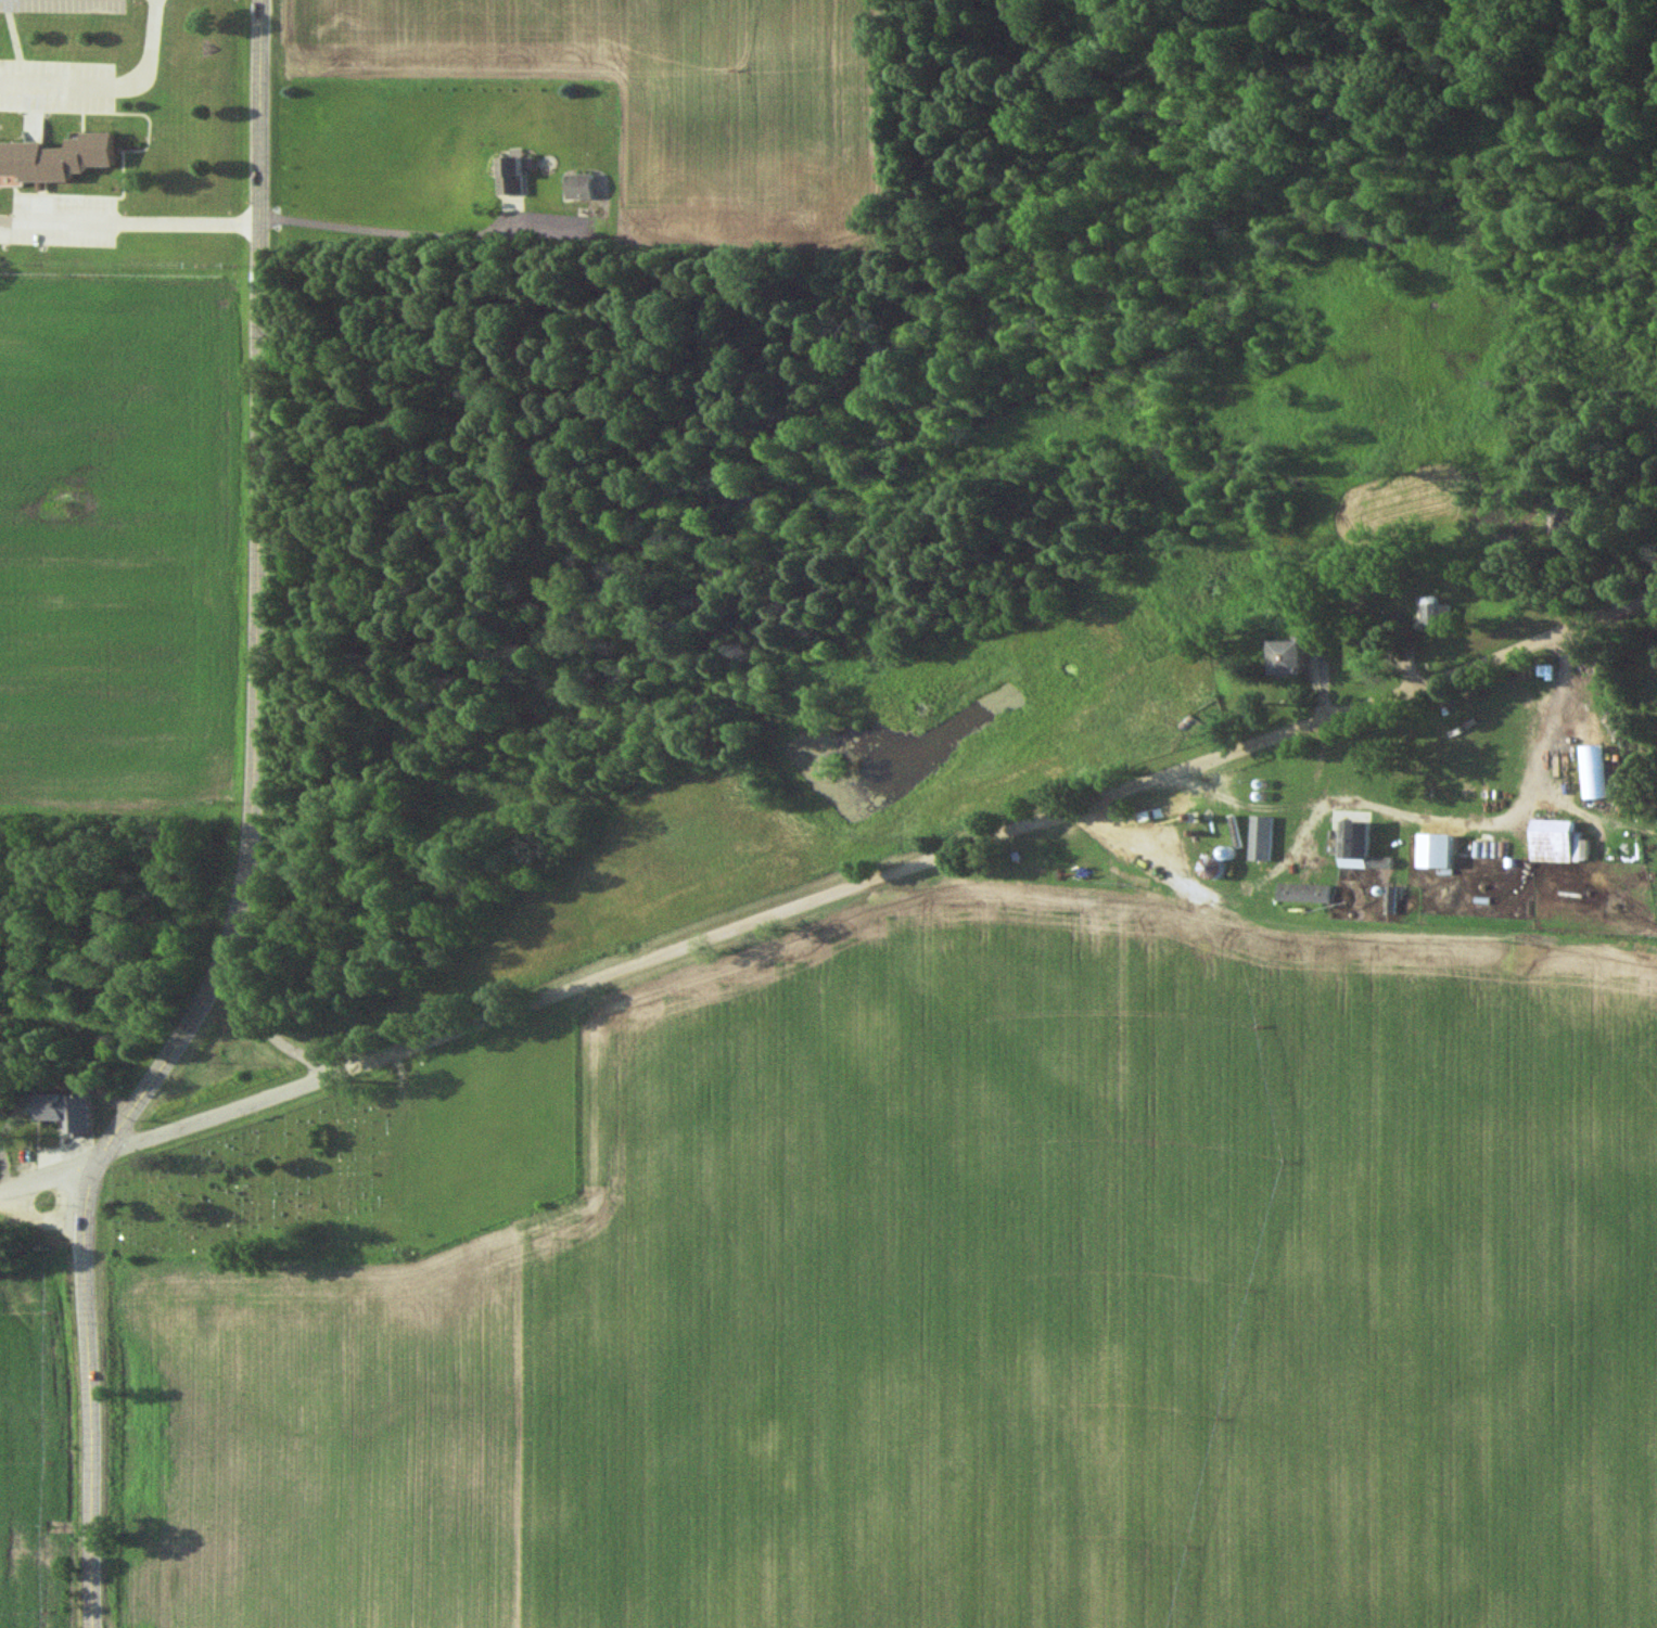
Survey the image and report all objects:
road: (112, 85)
building: (53, 161)
building: (509, 177)
building: (577, 187)
road: (127, 222)
road: (393, 233)
building: (1437, 614)
building: (1287, 657)
road: (252, 836)
building: (1260, 838)
building: (1350, 838)
building: (1551, 841)
building: (1302, 893)
road: (830, 894)
road: (265, 1030)
building: (66, 1112)
park: (280, 1187)

